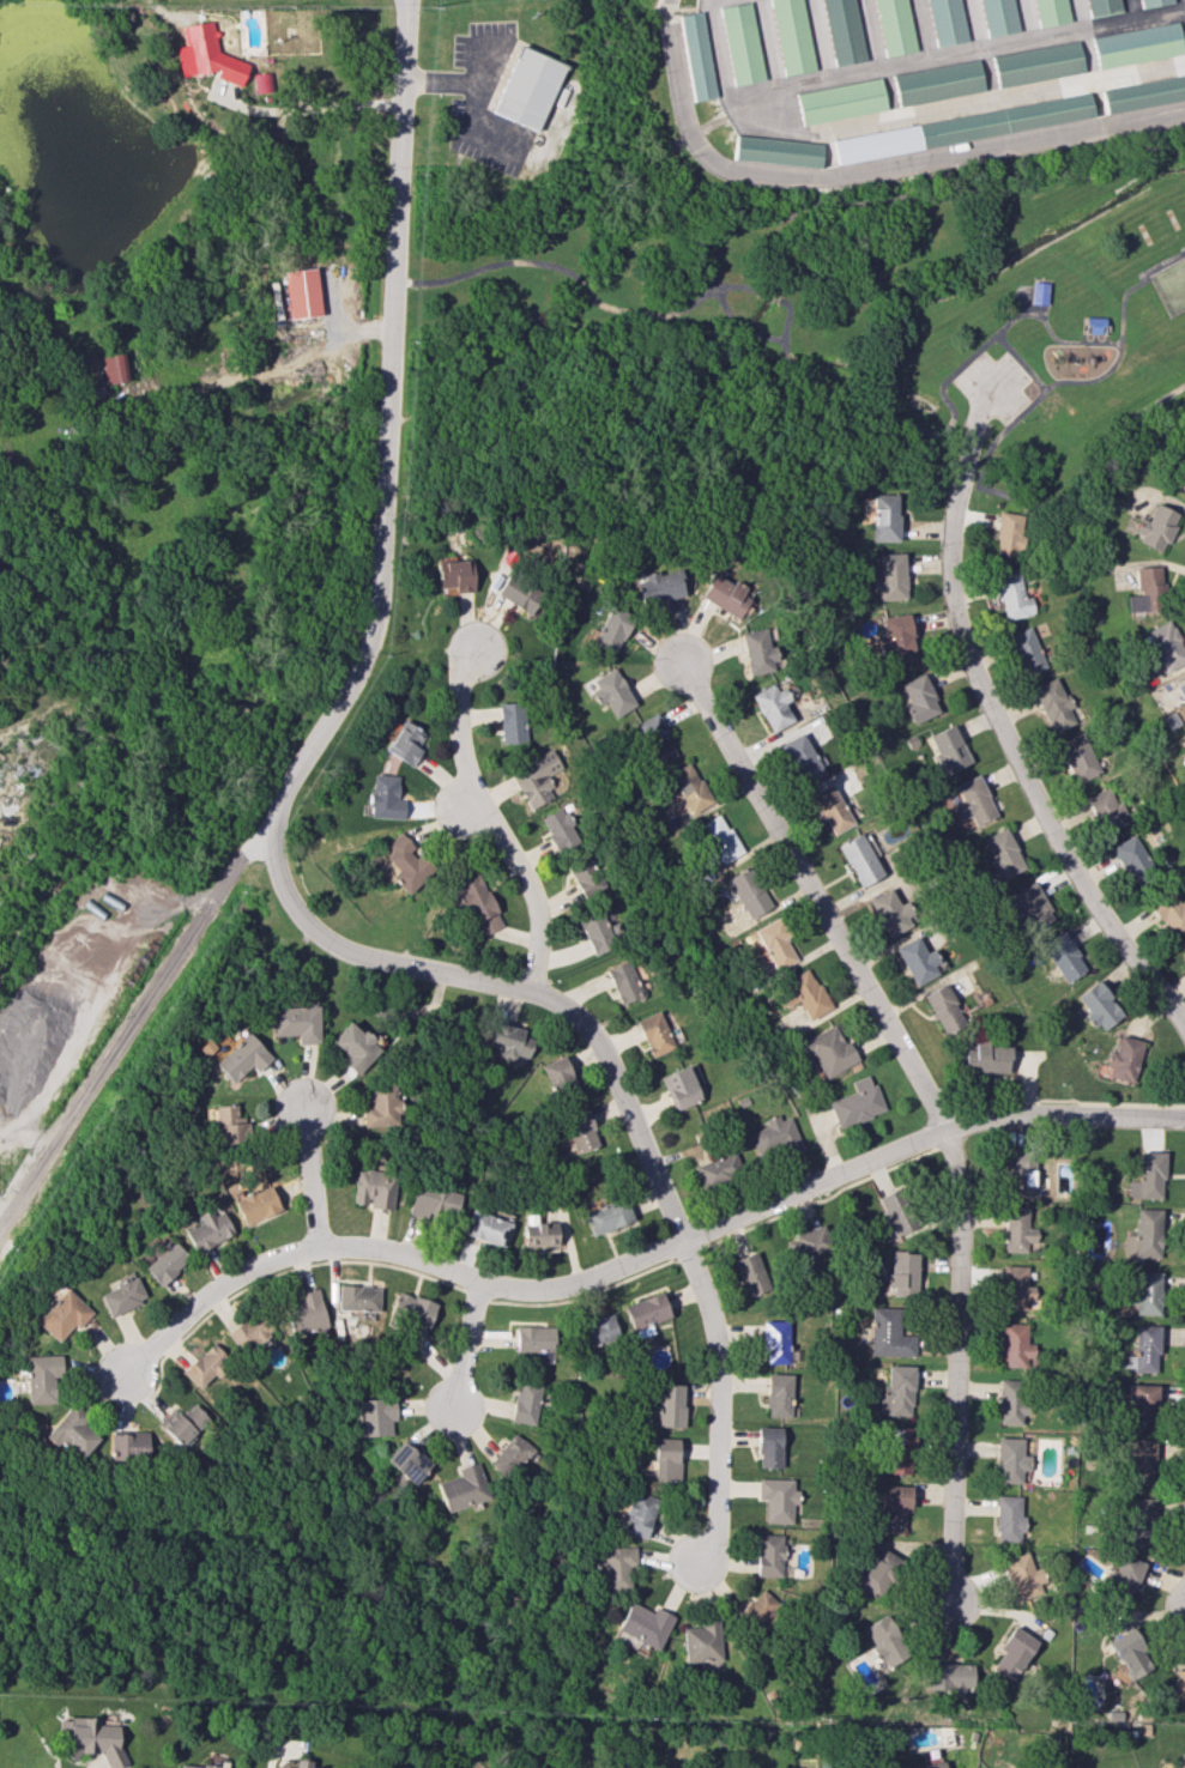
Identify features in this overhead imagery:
building: (1153, 2)
building: (1102, 6)
road: (1133, 11)
building: (1051, 12)
road: (1081, 16)
building: (999, 17)
road: (1027, 19)
building: (947, 22)
road: (1135, 22)
road: (977, 25)
building: (895, 26)
road: (923, 30)
building: (844, 31)
road: (871, 35)
building: (792, 36)
road: (1033, 38)
road: (820, 40)
building: (740, 43)
road: (767, 44)
building: (1136, 44)
building: (207, 55)
building: (695, 55)
road: (1089, 55)
road: (718, 56)
building: (1035, 63)
road: (854, 73)
road: (987, 74)
road: (454, 80)
building: (264, 81)
building: (522, 81)
building: (937, 83)
road: (894, 91)
building: (1142, 93)
building: (840, 101)
road: (956, 104)
road: (1098, 104)
road: (308, 109)
road: (474, 122)
road: (1143, 122)
road: (708, 127)
building: (961, 127)
road: (691, 144)
building: (775, 151)
road: (944, 158)
road: (902, 196)
park: (1172, 218)
park: (1144, 234)
road: (566, 272)
park: (1172, 287)
road: (1028, 289)
building: (301, 292)
building: (1041, 292)
road: (769, 296)
road: (769, 296)
road: (1017, 308)
road: (1029, 314)
road: (787, 321)
park: (980, 322)
road: (743, 323)
building: (1096, 323)
road: (1123, 325)
road: (343, 328)
road: (1084, 333)
road: (1107, 333)
road: (1002, 334)
road: (787, 358)
building: (115, 367)
road: (961, 368)
road: (1094, 381)
parking lot: (993, 386)
road: (986, 393)
road: (1086, 466)
building: (1180, 477)
building: (884, 517)
building: (1155, 527)
building: (1008, 533)
building: (454, 575)
building: (890, 576)
building: (660, 587)
building: (519, 589)
building: (1143, 591)
building: (725, 594)
building: (1011, 595)
building: (612, 630)
building: (897, 638)
building: (1166, 646)
building: (757, 650)
building: (1024, 650)
road: (357, 665)
building: (1181, 688)
building: (612, 691)
building: (919, 698)
building: (1052, 704)
building: (774, 707)
building: (510, 722)
road: (462, 723)
building: (653, 738)
road: (1008, 739)
building: (404, 743)
building: (949, 749)
building: (1077, 757)
building: (803, 758)
building: (536, 777)
building: (690, 787)
building: (382, 797)
building: (973, 801)
road: (467, 806)
building: (832, 809)
building: (1105, 810)
building: (558, 829)
building: (719, 838)
building: (1002, 853)
building: (860, 859)
building: (1133, 860)
building: (404, 862)
road: (528, 889)
building: (748, 892)
road: (205, 903)
building: (478, 904)
building: (1028, 907)
building: (1169, 912)
building: (891, 913)
building: (598, 930)
building: (775, 944)
building: (1183, 945)
building: (1063, 956)
building: (918, 961)
building: (623, 981)
building: (803, 994)
building: (1098, 1005)
building: (944, 1009)
building: (295, 1023)
building: (653, 1034)
building: (508, 1041)
building: (353, 1047)
building: (828, 1049)
building: (241, 1058)
building: (986, 1058)
building: (1125, 1058)
building: (558, 1078)
building: (678, 1088)
road: (927, 1098)
road: (622, 1102)
building: (856, 1102)
building: (380, 1104)
building: (229, 1126)
building: (580, 1130)
building: (773, 1137)
building: (717, 1168)
building: (1021, 1170)
road: (309, 1173)
building: (1148, 1176)
road: (826, 1179)
building: (374, 1188)
building: (434, 1201)
building: (255, 1204)
building: (893, 1212)
building: (607, 1216)
road: (1, 1222)
building: (486, 1228)
building: (1017, 1229)
building: (207, 1230)
building: (538, 1231)
building: (1144, 1235)
building: (808, 1242)
road: (398, 1253)
building: (165, 1263)
building: (902, 1272)
building: (751, 1273)
building: (1016, 1288)
road: (210, 1291)
building: (1147, 1292)
building: (121, 1295)
building: (357, 1297)
building: (412, 1309)
building: (304, 1313)
building: (62, 1314)
building: (646, 1314)
building: (597, 1330)
building: (249, 1331)
building: (889, 1333)
building: (534, 1338)
building: (775, 1342)
road: (468, 1343)
building: (1015, 1345)
building: (1143, 1350)
building: (205, 1366)
building: (41, 1378)
building: (897, 1389)
building: (779, 1394)
building: (1010, 1400)
building: (525, 1403)
building: (1139, 1405)
building: (669, 1406)
building: (371, 1416)
building: (183, 1423)
building: (71, 1431)
building: (127, 1445)
building: (768, 1447)
building: (896, 1451)
building: (508, 1455)
building: (665, 1459)
building: (1009, 1460)
building: (406, 1461)
building: (1142, 1461)
building: (461, 1488)
building: (776, 1498)
building: (894, 1507)
building: (637, 1514)
building: (1008, 1518)
building: (1139, 1520)
building: (769, 1555)
building: (615, 1566)
building: (878, 1569)
building: (1024, 1576)
building: (1124, 1578)
building: (757, 1610)
building: (643, 1624)
building: (701, 1642)
building: (884, 1645)
building: (1131, 1652)
building: (1014, 1654)
building: (951, 1677)
building: (1177, 1683)
building: (91, 1738)
building: (302, 1763)
building: (199, 1766)
building: (926, 1766)

